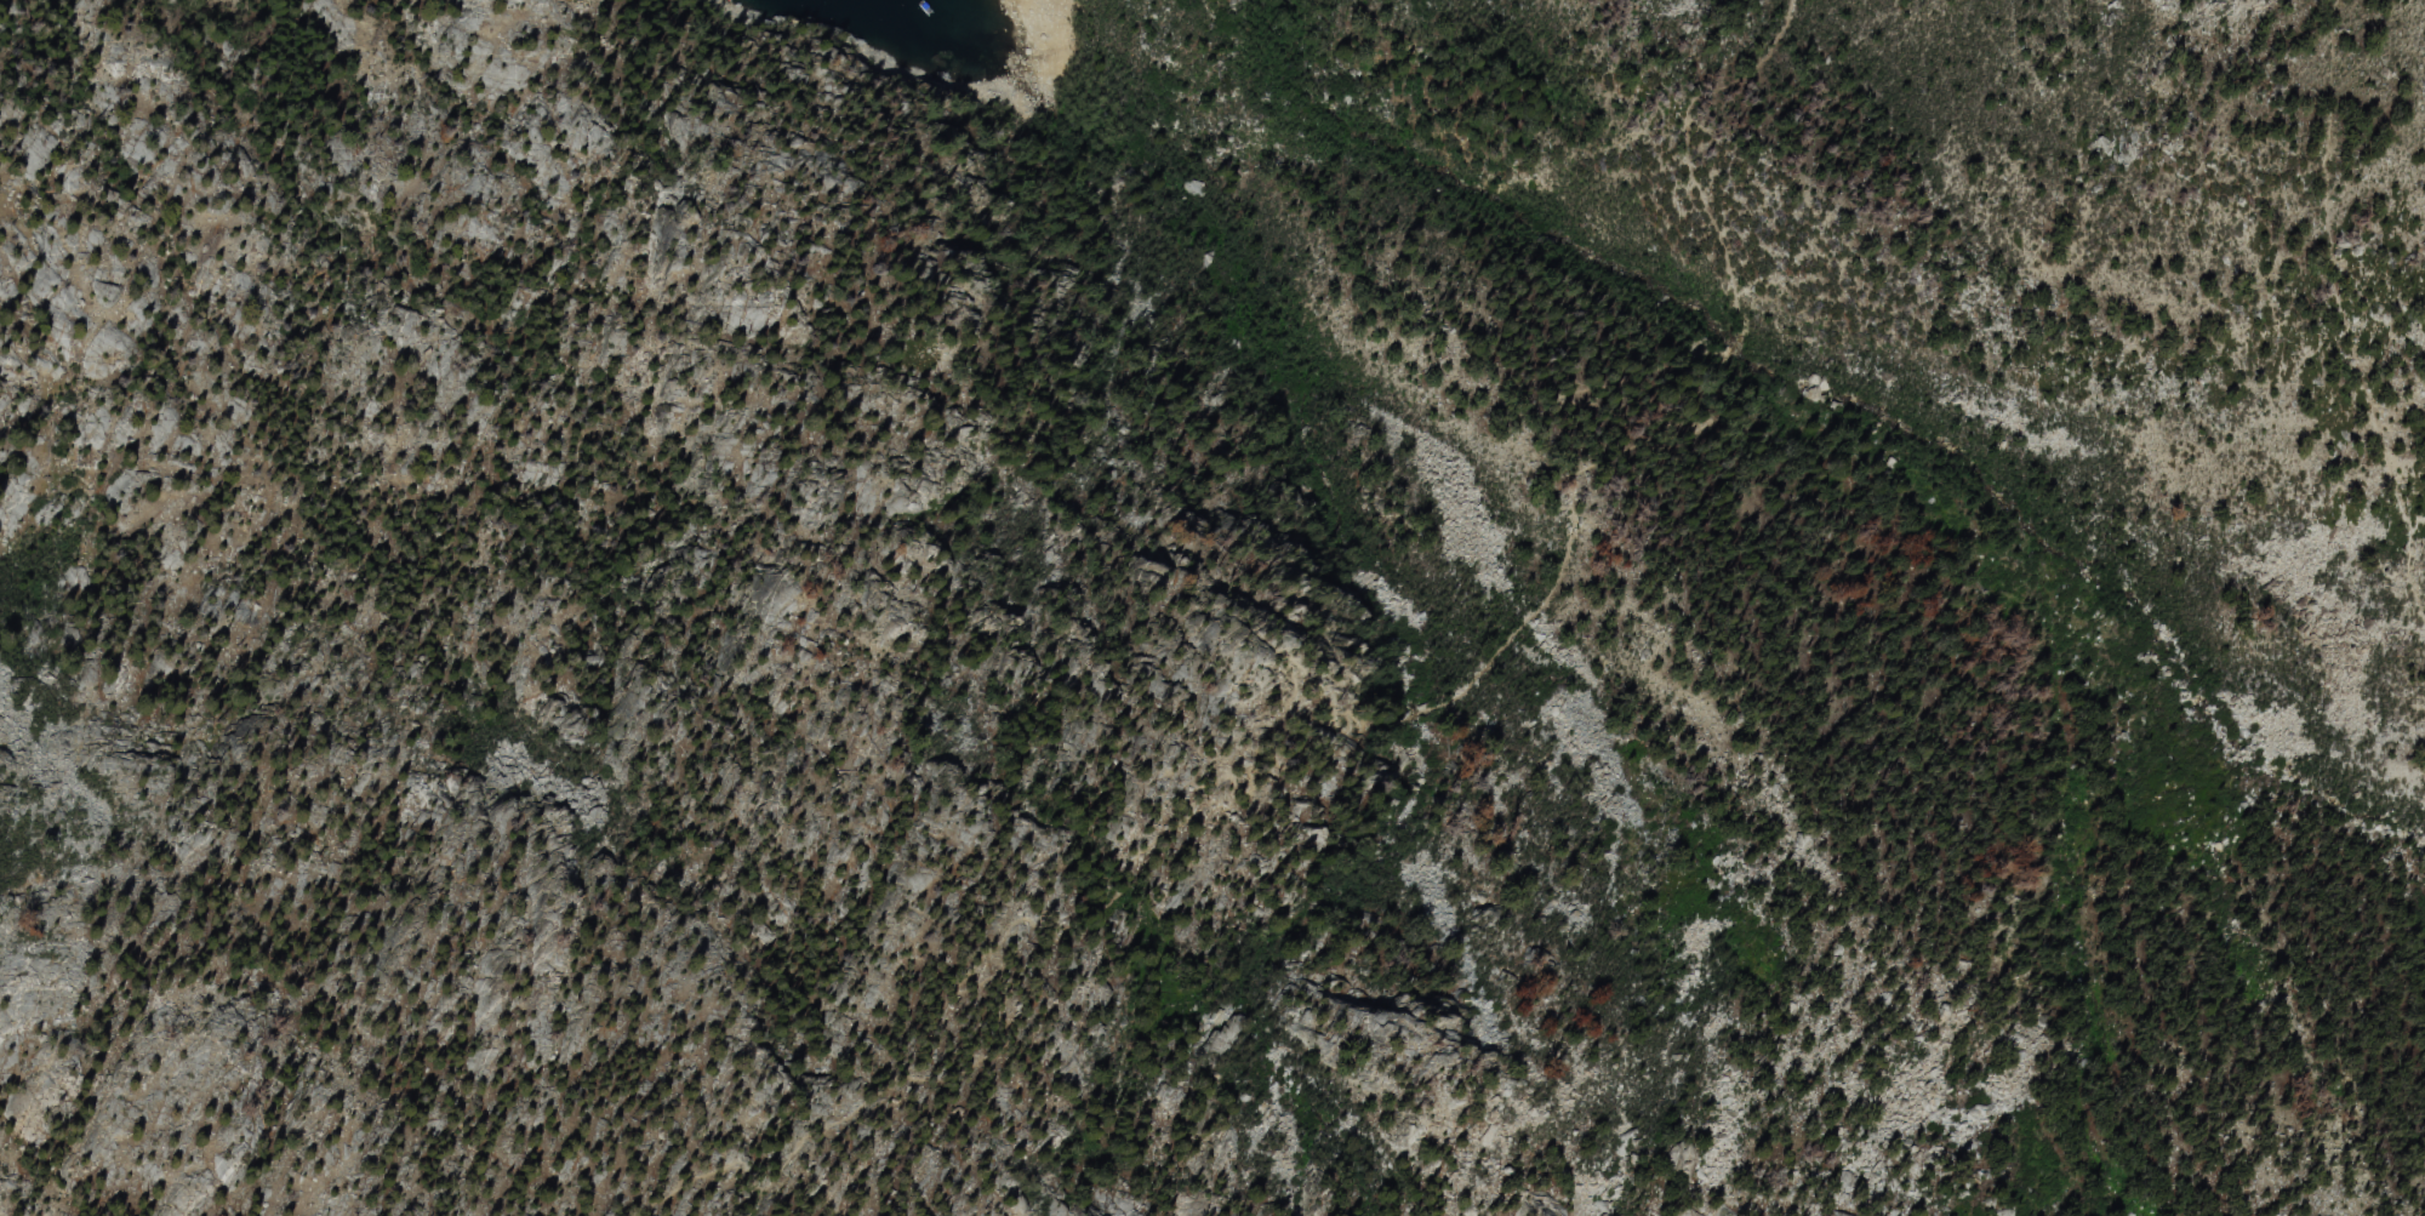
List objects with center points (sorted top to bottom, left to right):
road: (2341, 318)
road: (1340, 725)

